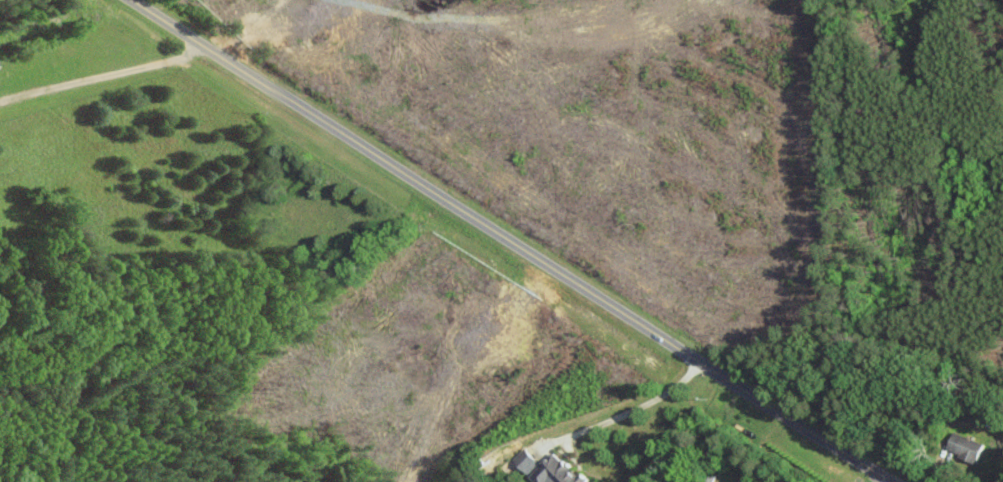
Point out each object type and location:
road: (103, 76)
road: (512, 239)
road: (637, 406)
building: (963, 447)
building: (553, 471)

